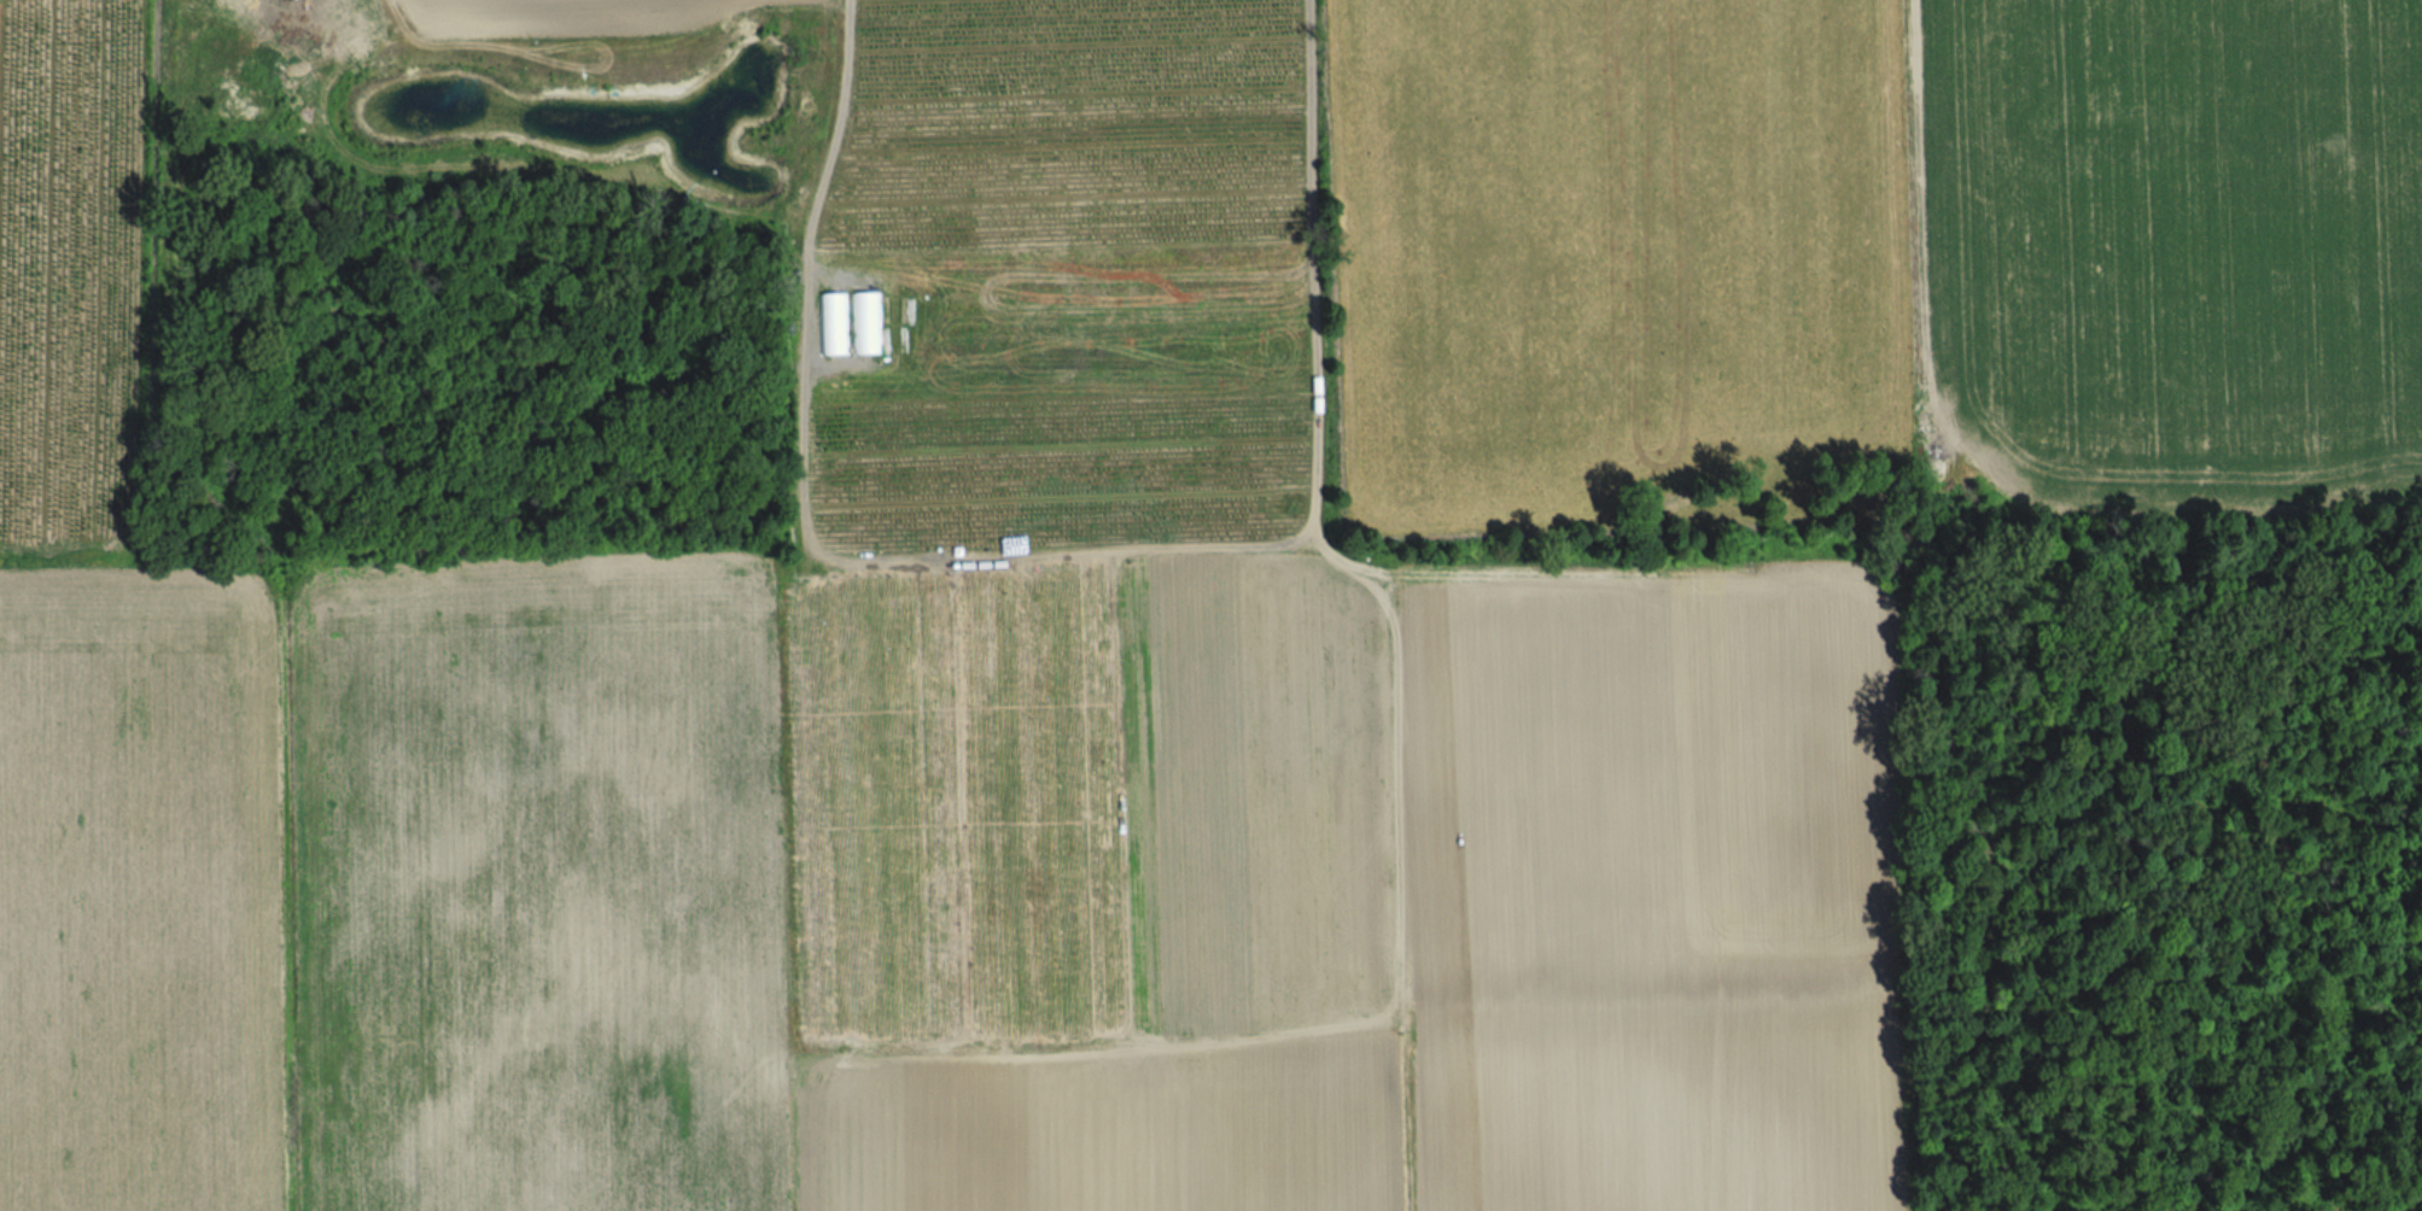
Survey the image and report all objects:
crop: (654, 16)
crop: (1060, 124)
crop: (2176, 250)
crop: (1600, 259)
crop: (68, 270)
crop: (1046, 467)
road: (1054, 557)
crop: (139, 889)
crop: (1003, 917)

